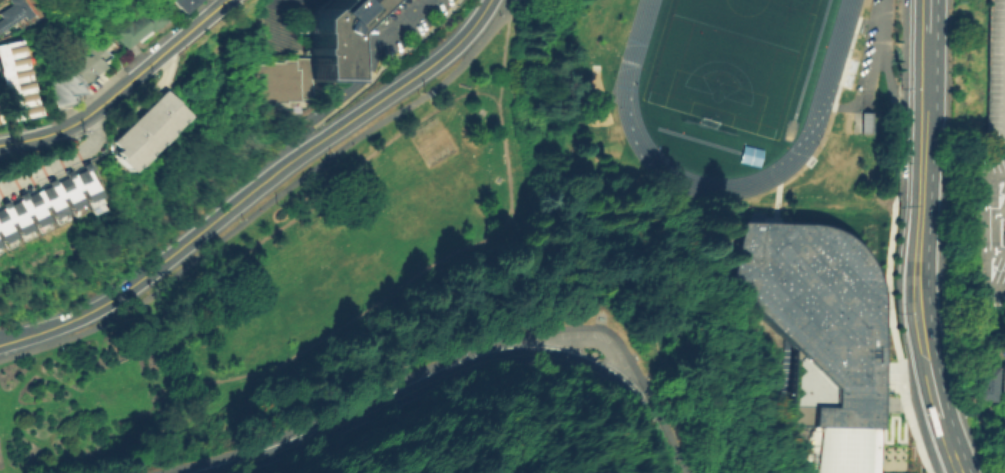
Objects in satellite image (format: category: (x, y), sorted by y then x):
building: (184, 4)
road: (514, 9)
building: (14, 14)
road: (922, 16)
road: (289, 22)
building: (135, 30)
parking lot: (868, 42)
building: (309, 54)
road: (503, 58)
park: (729, 59)
building: (88, 64)
road: (885, 65)
building: (995, 74)
parking lot: (995, 74)
road: (360, 77)
building: (16, 81)
road: (405, 82)
road: (921, 85)
road: (121, 88)
road: (868, 89)
road: (150, 93)
track: (820, 99)
building: (864, 122)
building: (148, 129)
park: (433, 138)
building: (749, 154)
road: (301, 155)
road: (61, 158)
road: (268, 198)
road: (654, 203)
building: (48, 205)
building: (989, 227)
parking lot: (989, 227)
park: (500, 231)
road: (919, 242)
road: (158, 268)
road: (630, 308)
building: (824, 330)
road: (587, 339)
road: (994, 345)
road: (452, 352)
road: (295, 356)
road: (927, 358)
road: (905, 369)
building: (985, 381)
building: (1002, 381)
road: (613, 382)
road: (934, 394)
road: (358, 413)
road: (950, 443)
road: (952, 471)
road: (960, 471)

